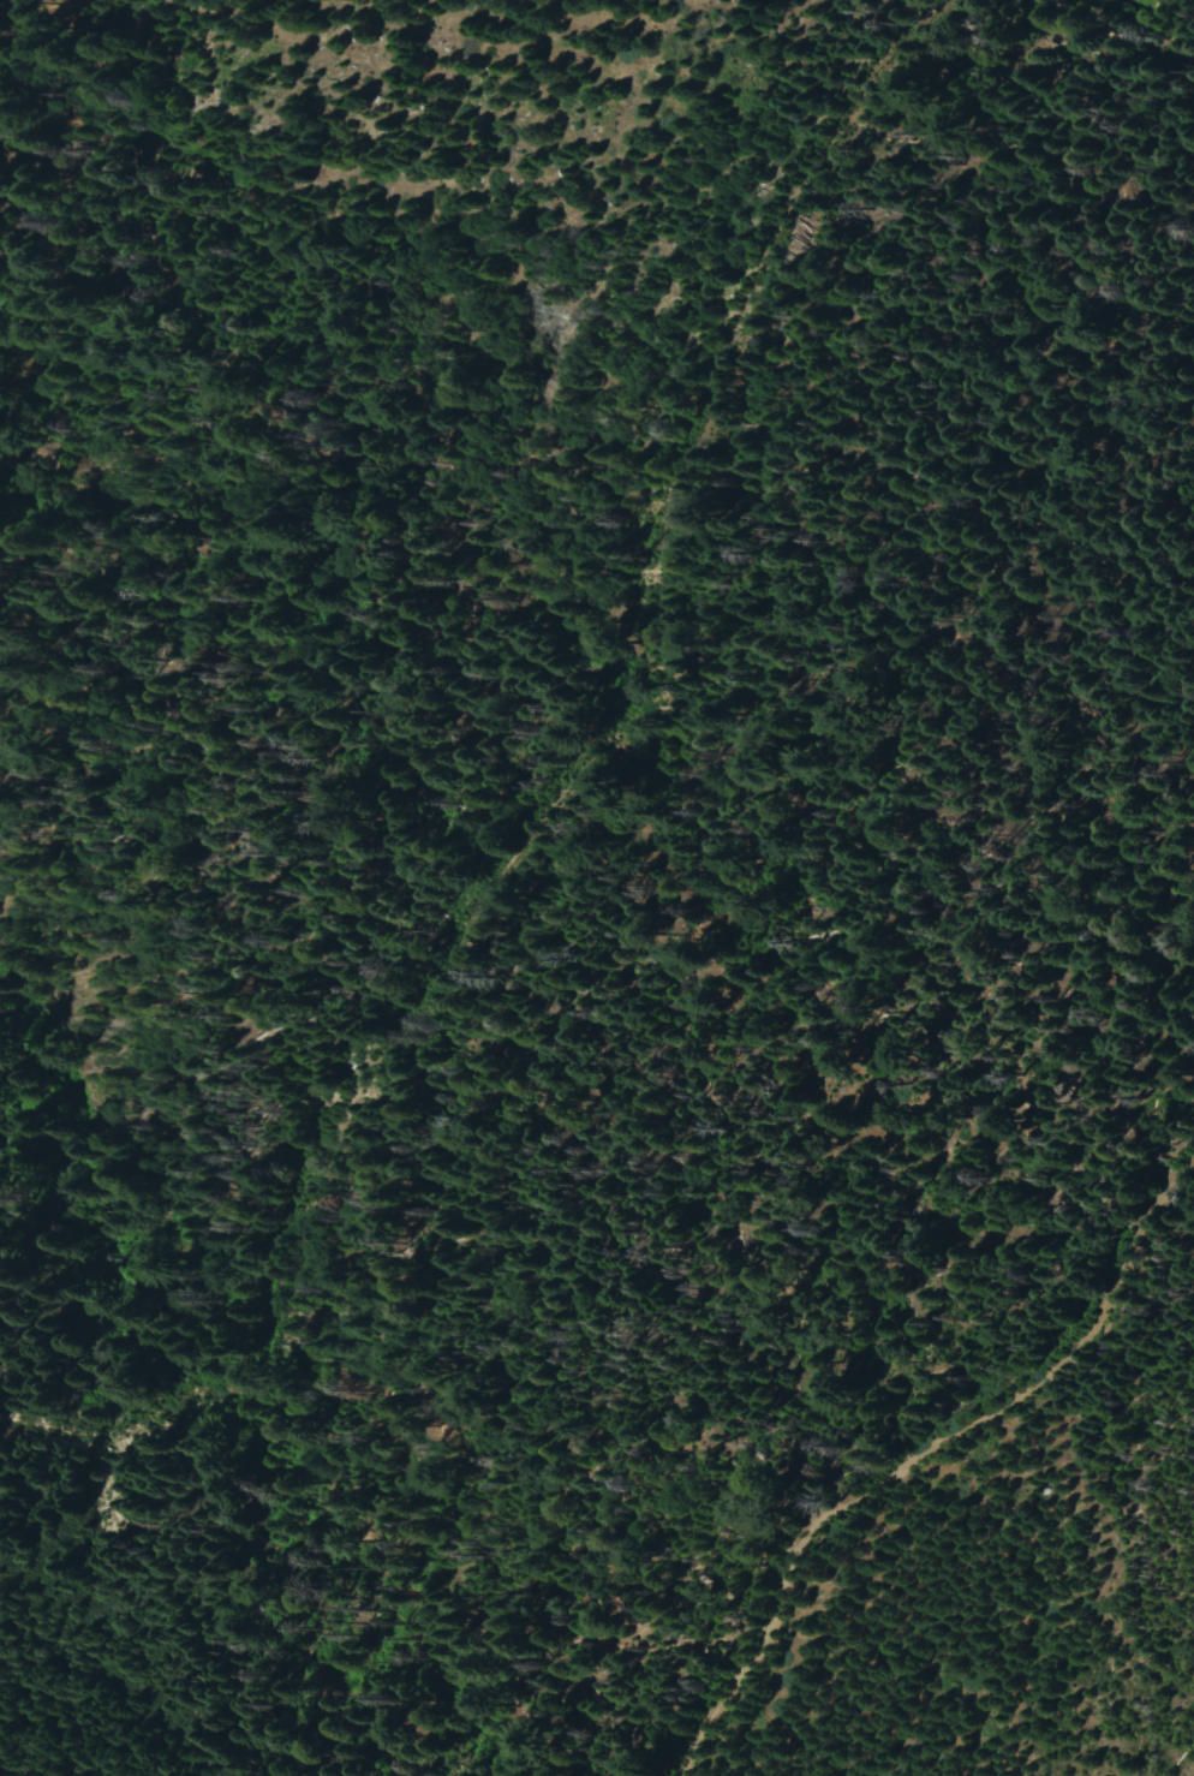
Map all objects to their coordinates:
road: (554, 811)
road: (921, 1456)
road: (969, 1552)

